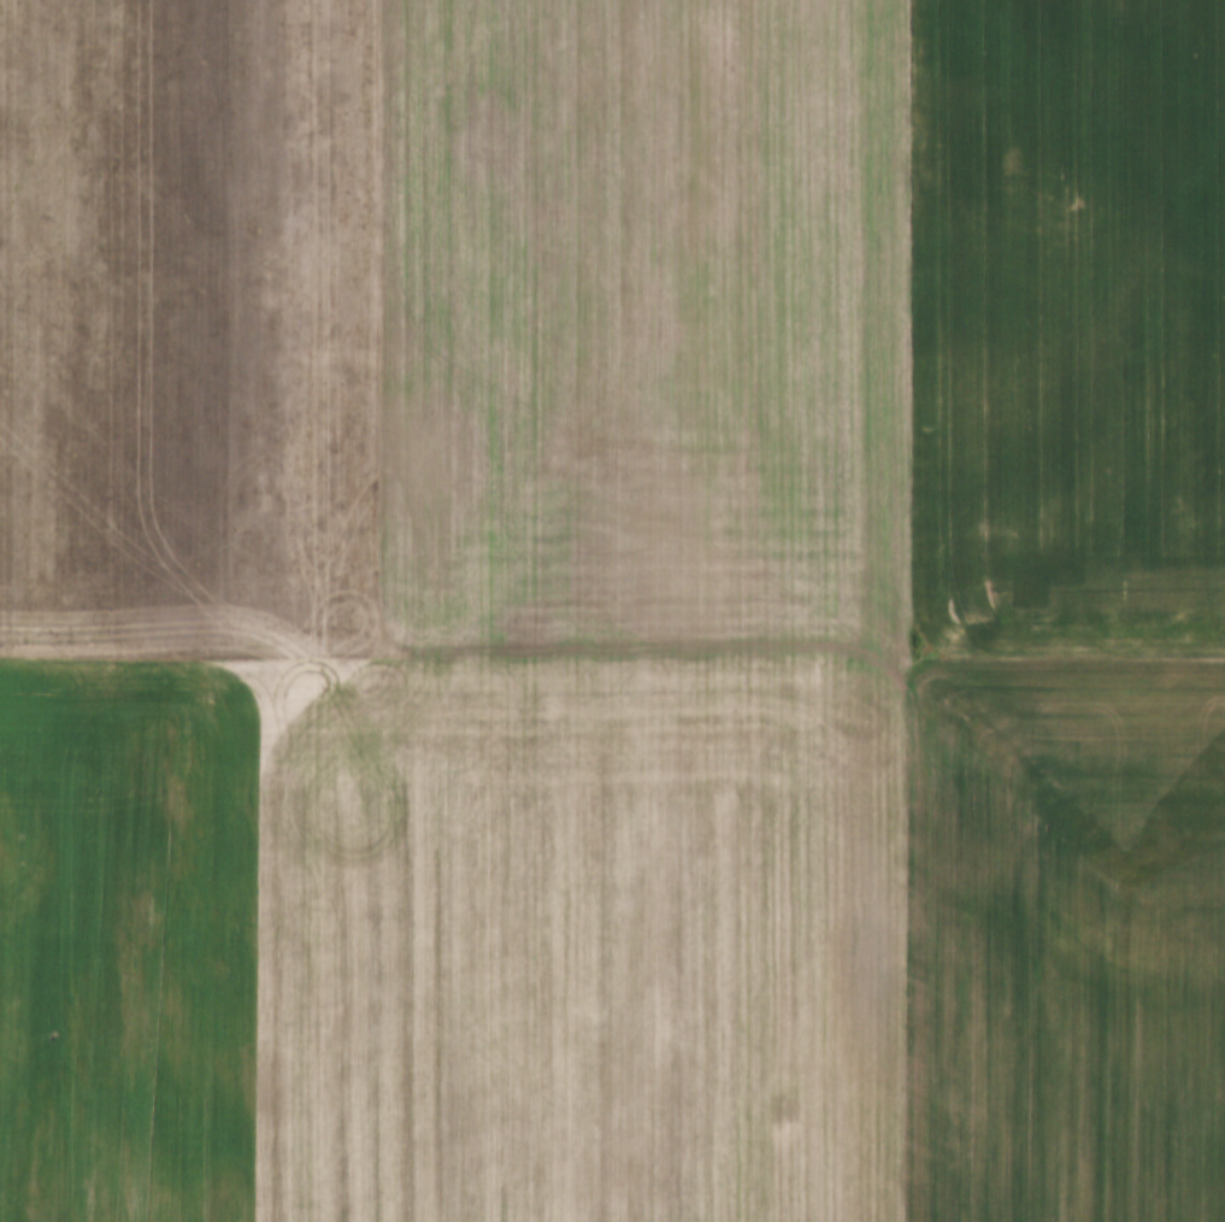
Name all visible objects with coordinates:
road: (1062, 638)
road: (923, 871)

